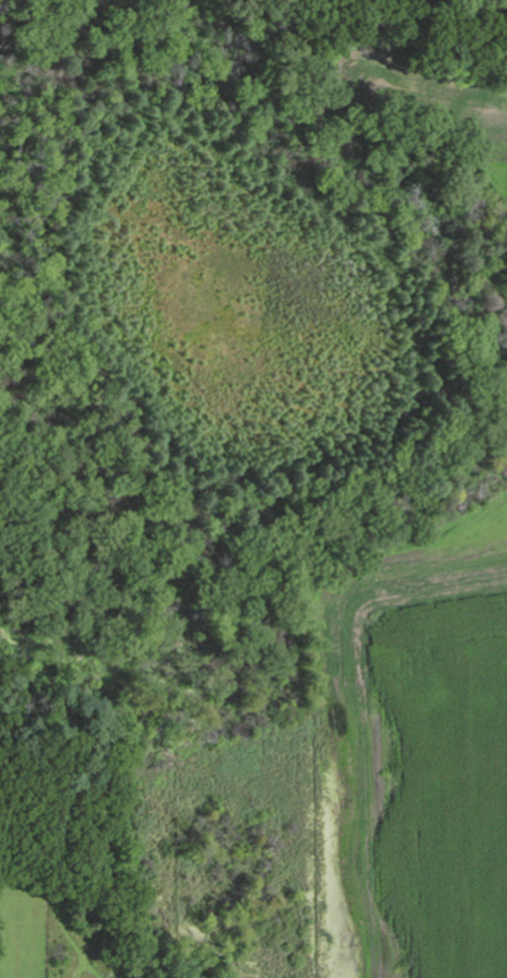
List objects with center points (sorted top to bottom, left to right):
crop: (466, 118)
crop: (424, 749)

